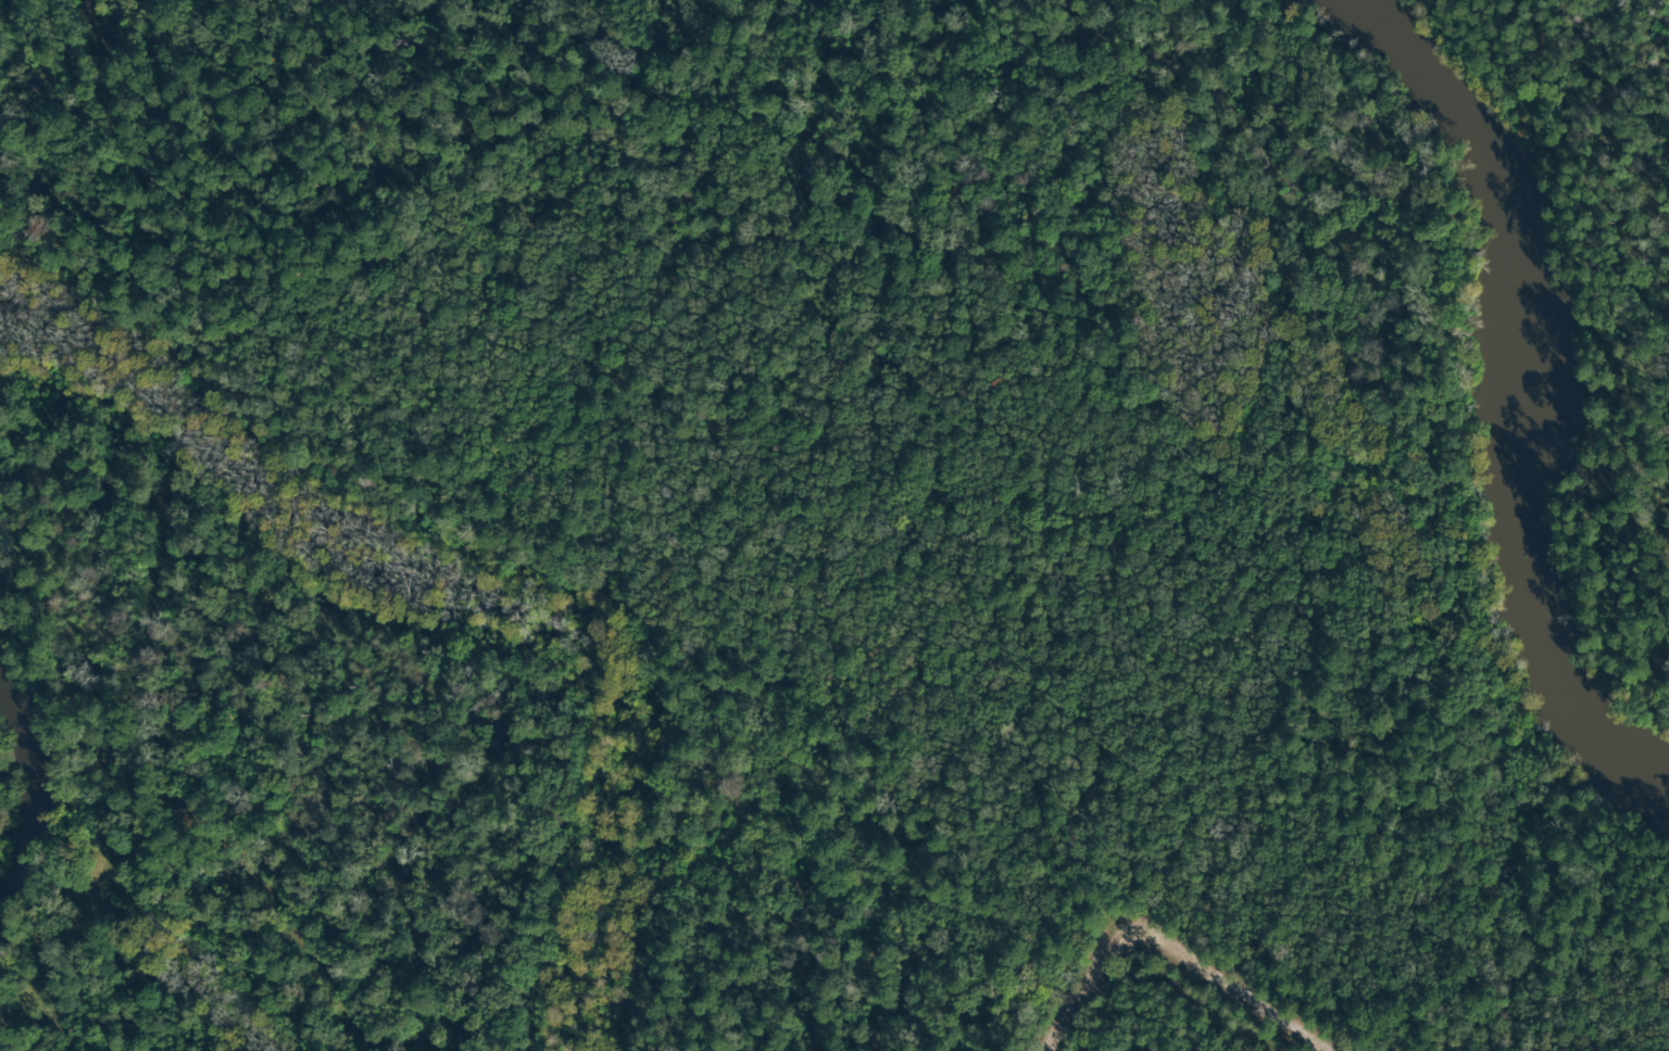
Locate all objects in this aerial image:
river: (1506, 393)
river: (29, 799)
road: (1201, 962)
road: (1055, 1017)

